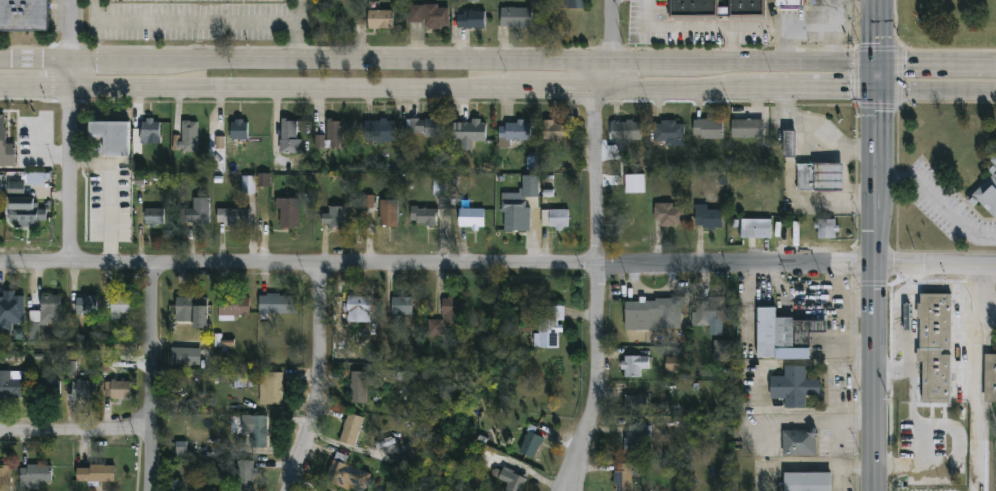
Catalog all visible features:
building: (575, 4)
building: (787, 5)
building: (692, 10)
building: (746, 10)
building: (23, 16)
building: (429, 17)
building: (837, 18)
building: (516, 19)
building: (379, 20)
building: (470, 20)
road: (188, 22)
road: (688, 28)
road: (299, 31)
road: (805, 33)
road: (609, 34)
traffic signals: (878, 44)
road: (729, 46)
road: (901, 47)
road: (877, 48)
road: (827, 49)
road: (923, 50)
road: (35, 61)
road: (118, 61)
road: (381, 62)
road: (645, 64)
road: (785, 65)
traffic signals: (905, 65)
road: (937, 65)
road: (596, 76)
road: (855, 77)
road: (899, 77)
road: (35, 86)
road: (295, 88)
road: (558, 89)
road: (674, 89)
road: (766, 90)
road: (828, 90)
traffic signals: (849, 90)
road: (937, 91)
road: (877, 105)
traffic signals: (878, 114)
building: (425, 129)
road: (70, 130)
building: (747, 130)
building: (2, 131)
building: (238, 131)
building: (708, 131)
building: (150, 132)
building: (340, 133)
building: (469, 133)
building: (554, 133)
building: (626, 133)
building: (668, 133)
building: (379, 134)
building: (513, 134)
building: (189, 137)
building: (111, 138)
building: (290, 138)
road: (817, 138)
building: (220, 142)
building: (789, 145)
road: (846, 175)
building: (819, 178)
building: (35, 179)
building: (264, 180)
building: (248, 185)
building: (634, 185)
building: (16, 187)
building: (440, 187)
building: (988, 189)
road: (940, 194)
road: (799, 199)
road: (861, 199)
building: (520, 206)
building: (197, 213)
building: (363, 213)
building: (23, 214)
building: (388, 214)
building: (288, 215)
building: (668, 216)
building: (154, 218)
building: (232, 218)
building: (334, 218)
building: (425, 219)
building: (470, 219)
building: (707, 219)
building: (554, 220)
building: (755, 230)
building: (826, 230)
road: (875, 245)
road: (437, 267)
road: (935, 267)
road: (597, 291)
road: (972, 298)
building: (12, 305)
building: (278, 305)
building: (86, 306)
building: (191, 307)
building: (233, 307)
building: (401, 307)
building: (50, 309)
building: (120, 309)
building: (358, 310)
building: (452, 311)
building: (713, 312)
building: (652, 316)
building: (524, 328)
building: (548, 329)
building: (783, 337)
building: (934, 346)
building: (724, 351)
building: (181, 357)
road: (909, 362)
building: (672, 364)
road: (823, 364)
building: (634, 367)
building: (71, 368)
road: (892, 373)
road: (151, 377)
building: (990, 377)
building: (242, 381)
road: (319, 381)
building: (11, 385)
road: (765, 387)
building: (358, 388)
building: (793, 388)
building: (50, 389)
building: (271, 389)
building: (85, 390)
building: (116, 391)
building: (631, 405)
road: (823, 411)
road: (813, 426)
building: (350, 430)
building: (259, 432)
road: (976, 432)
road: (75, 434)
building: (637, 439)
building: (799, 444)
building: (530, 446)
building: (181, 449)
road: (813, 466)
road: (568, 468)
building: (95, 475)
building: (36, 476)
building: (245, 476)
building: (341, 476)
building: (622, 477)
building: (5, 478)
building: (512, 481)
building: (806, 482)

